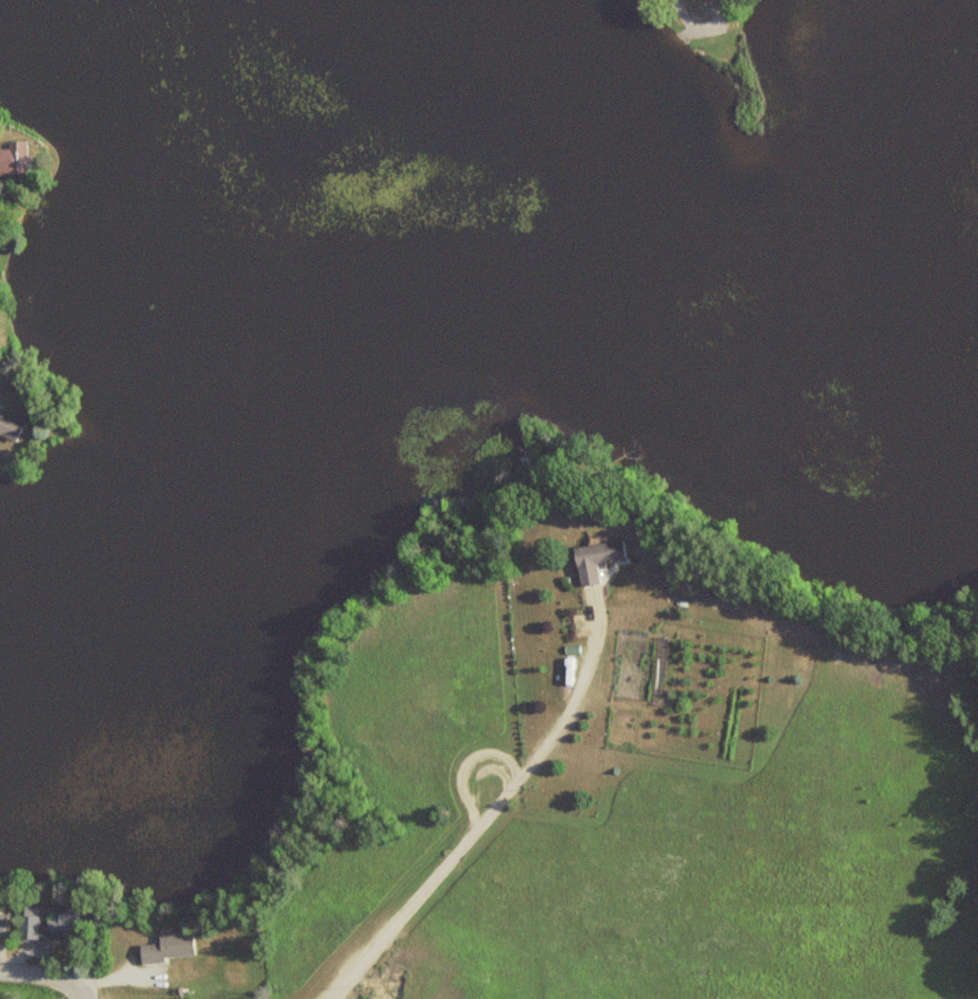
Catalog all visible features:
building: (9, 157)
river: (448, 211)
building: (9, 427)
building: (594, 559)
road: (467, 761)
road: (487, 812)
building: (1, 920)
building: (60, 923)
building: (26, 927)
building: (167, 948)
road: (39, 975)
road: (77, 994)

